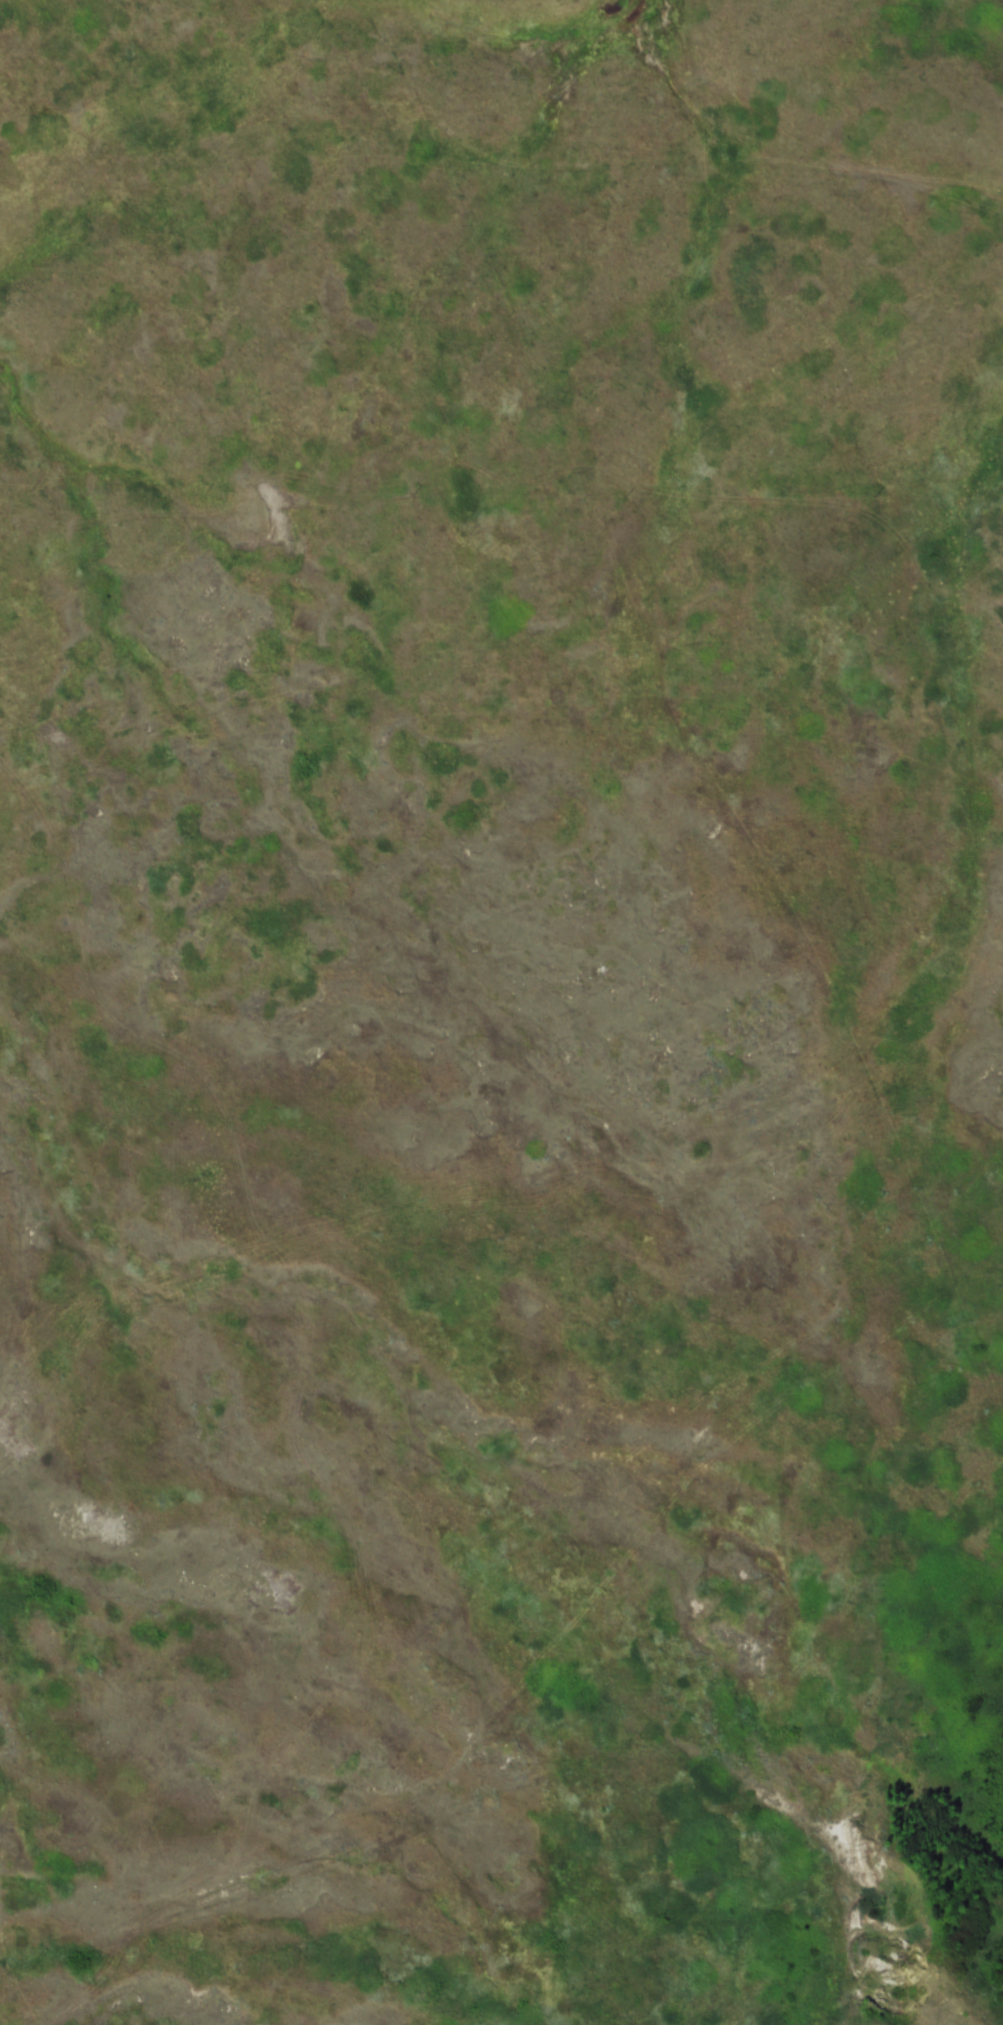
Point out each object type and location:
road: (794, 162)

